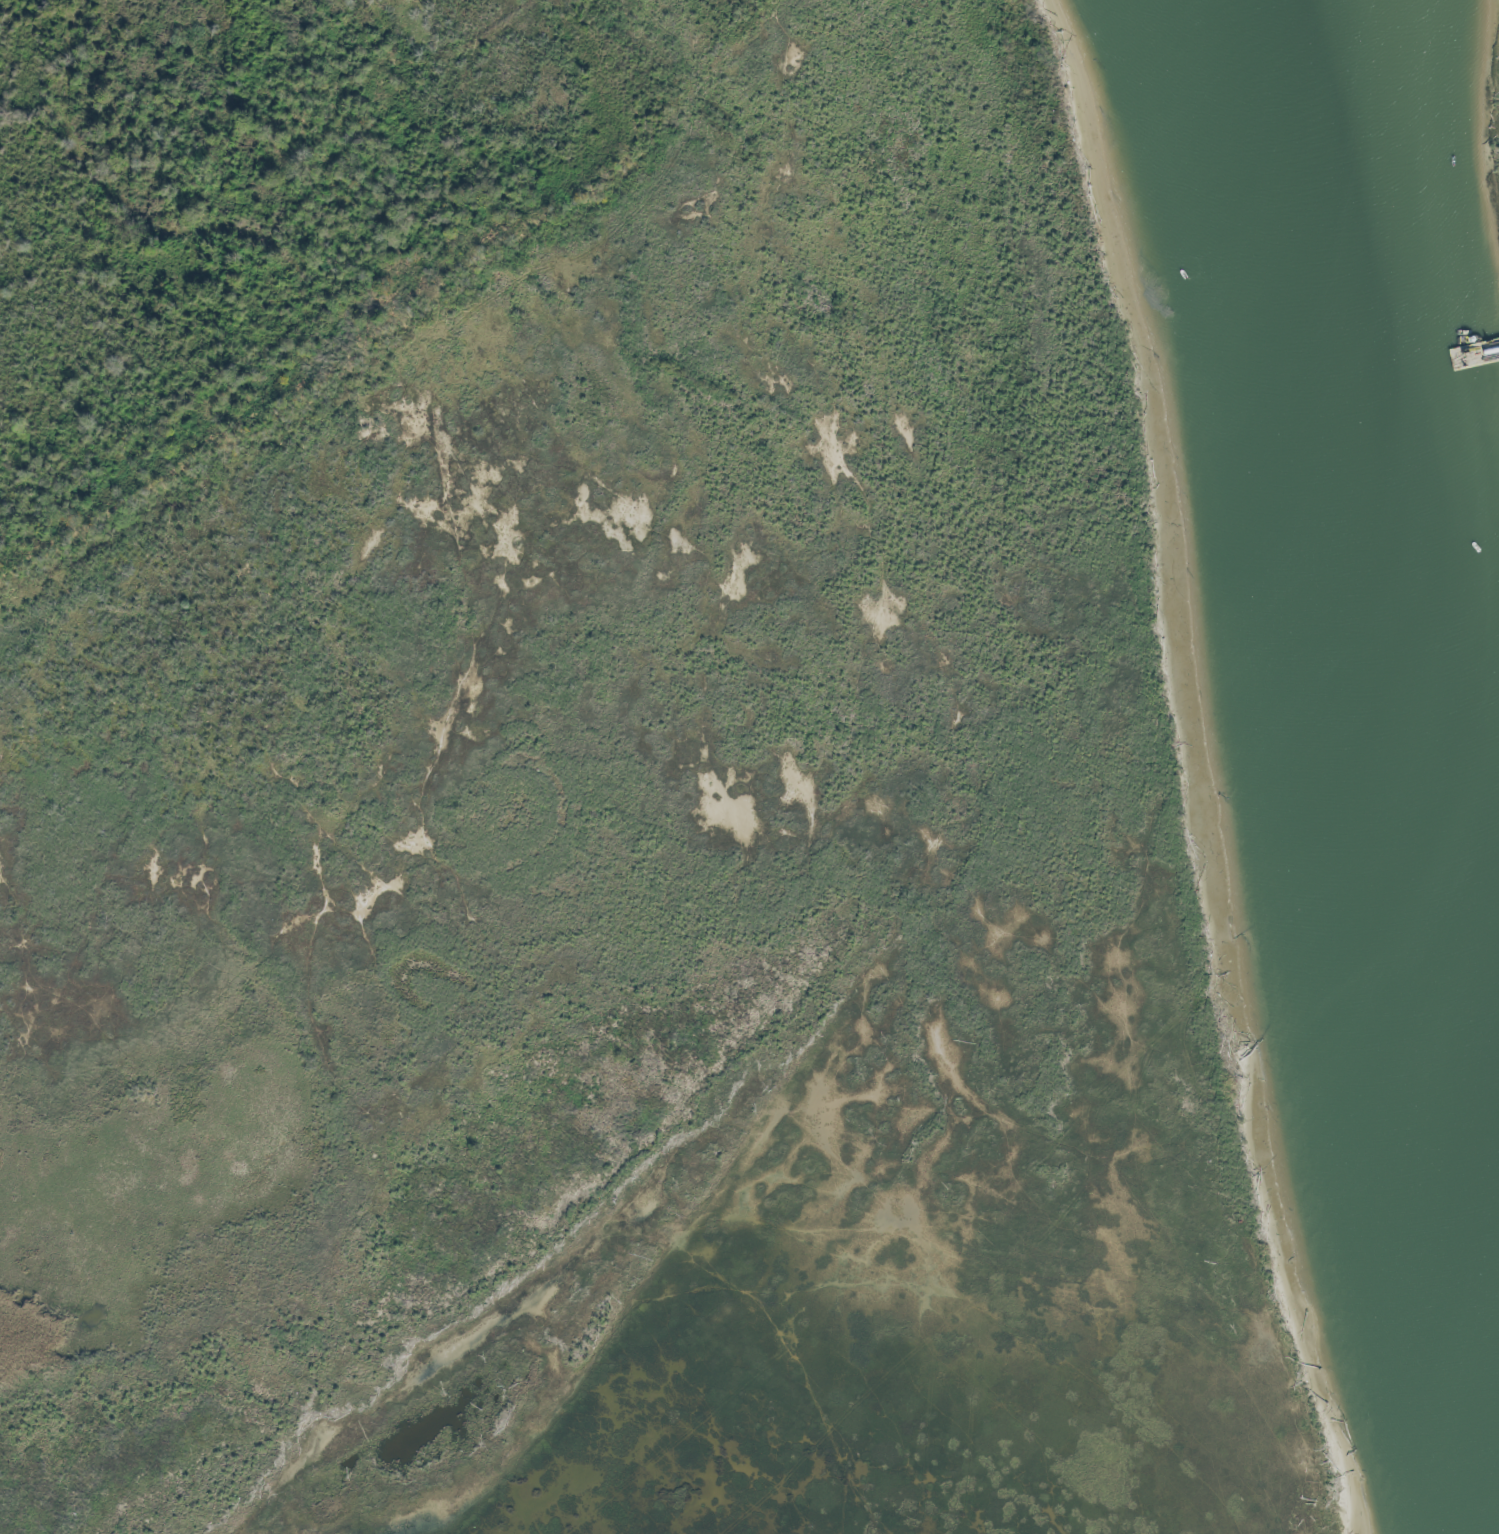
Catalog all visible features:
river: (1388, 514)

